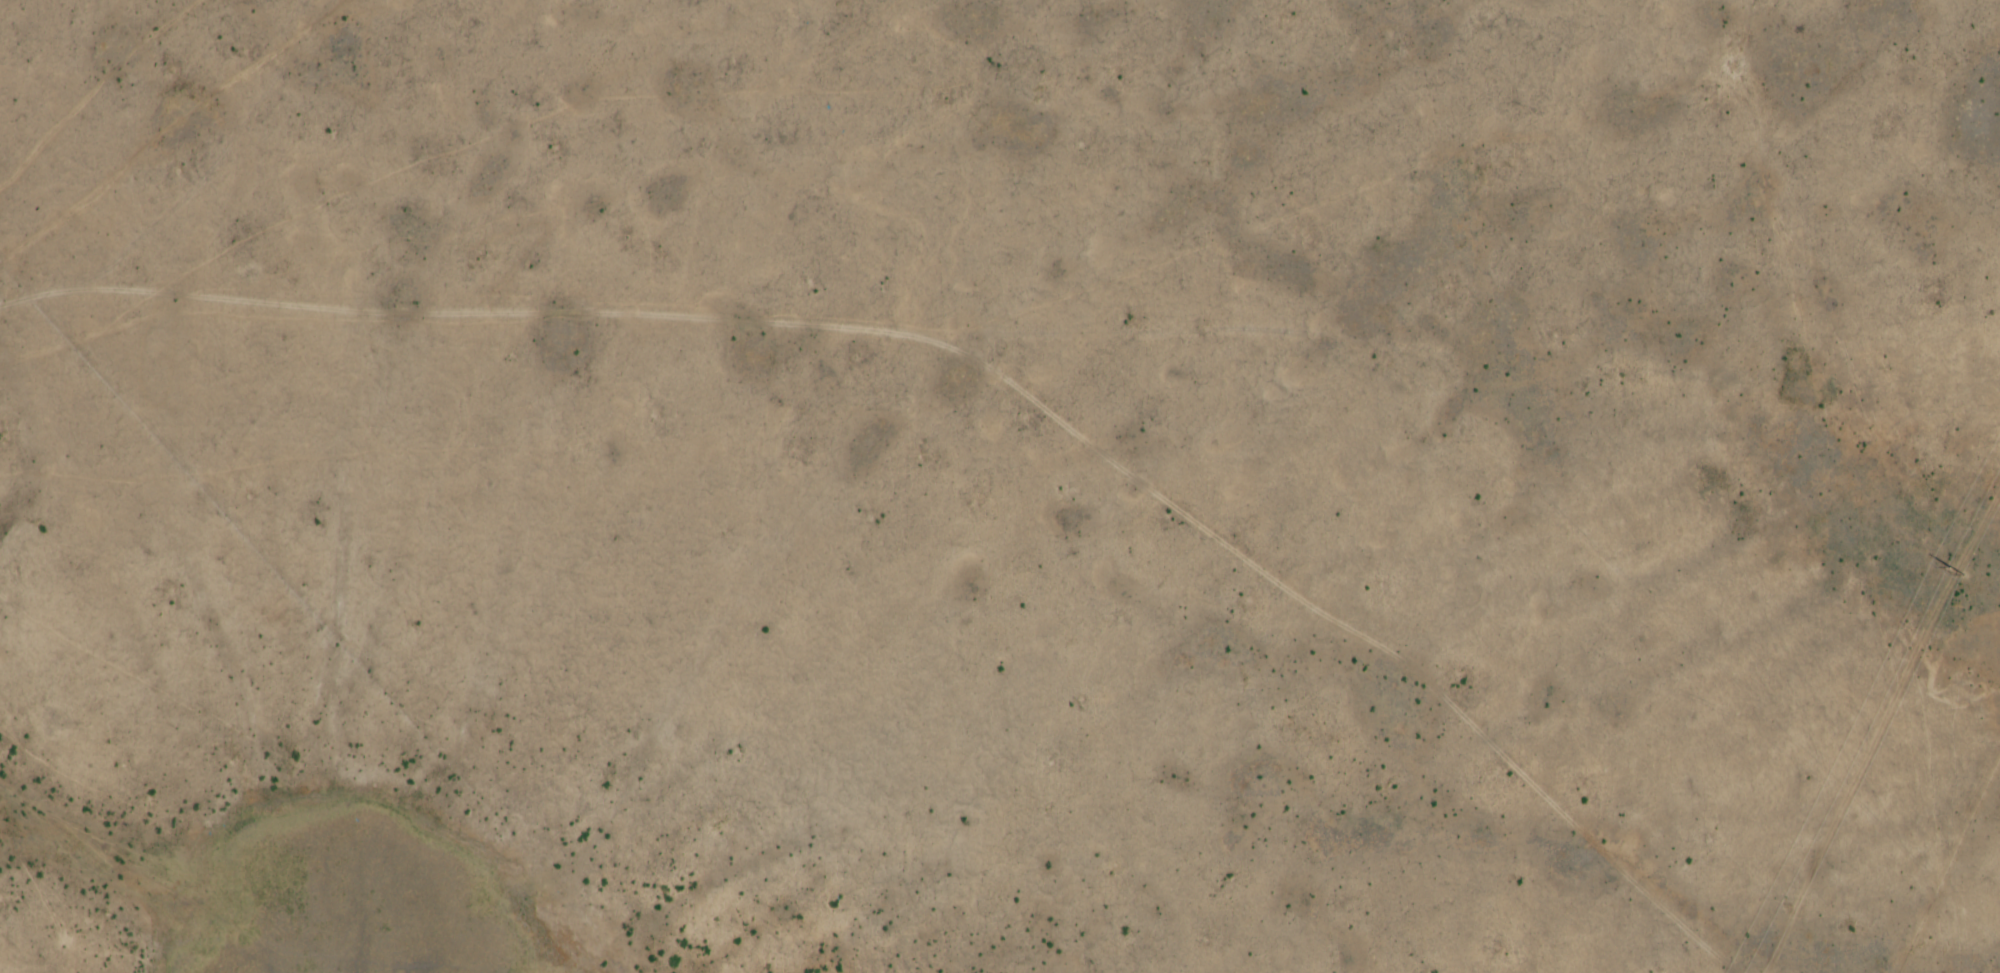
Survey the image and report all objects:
power tower: (1955, 567)

